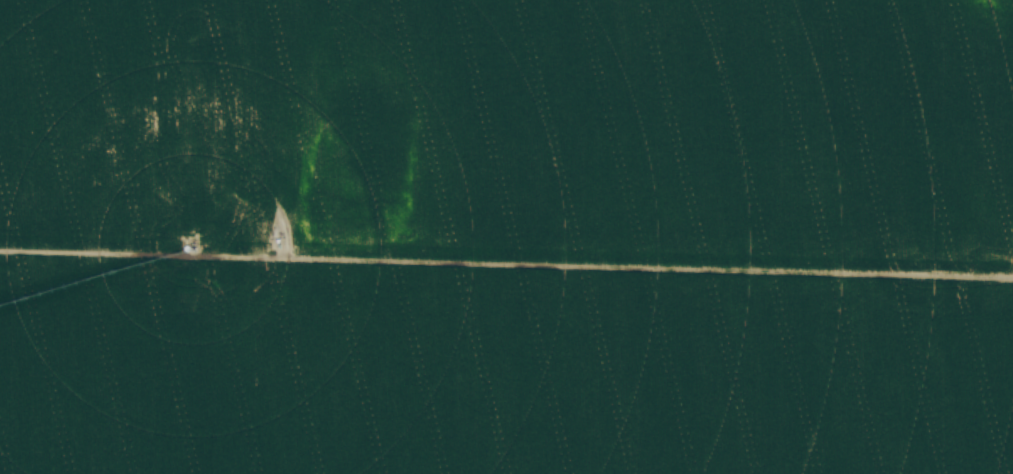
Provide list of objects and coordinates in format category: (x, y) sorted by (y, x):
crop: (506, 237)

